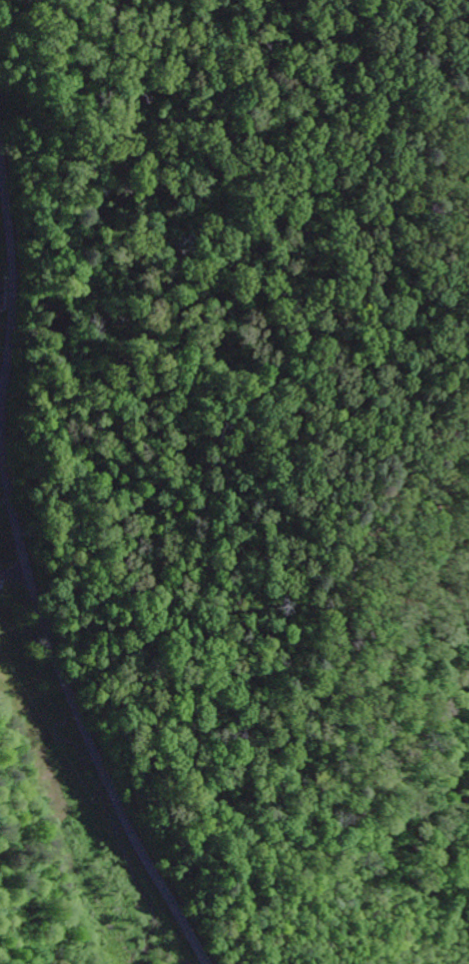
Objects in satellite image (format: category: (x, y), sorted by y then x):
road: (28, 565)

